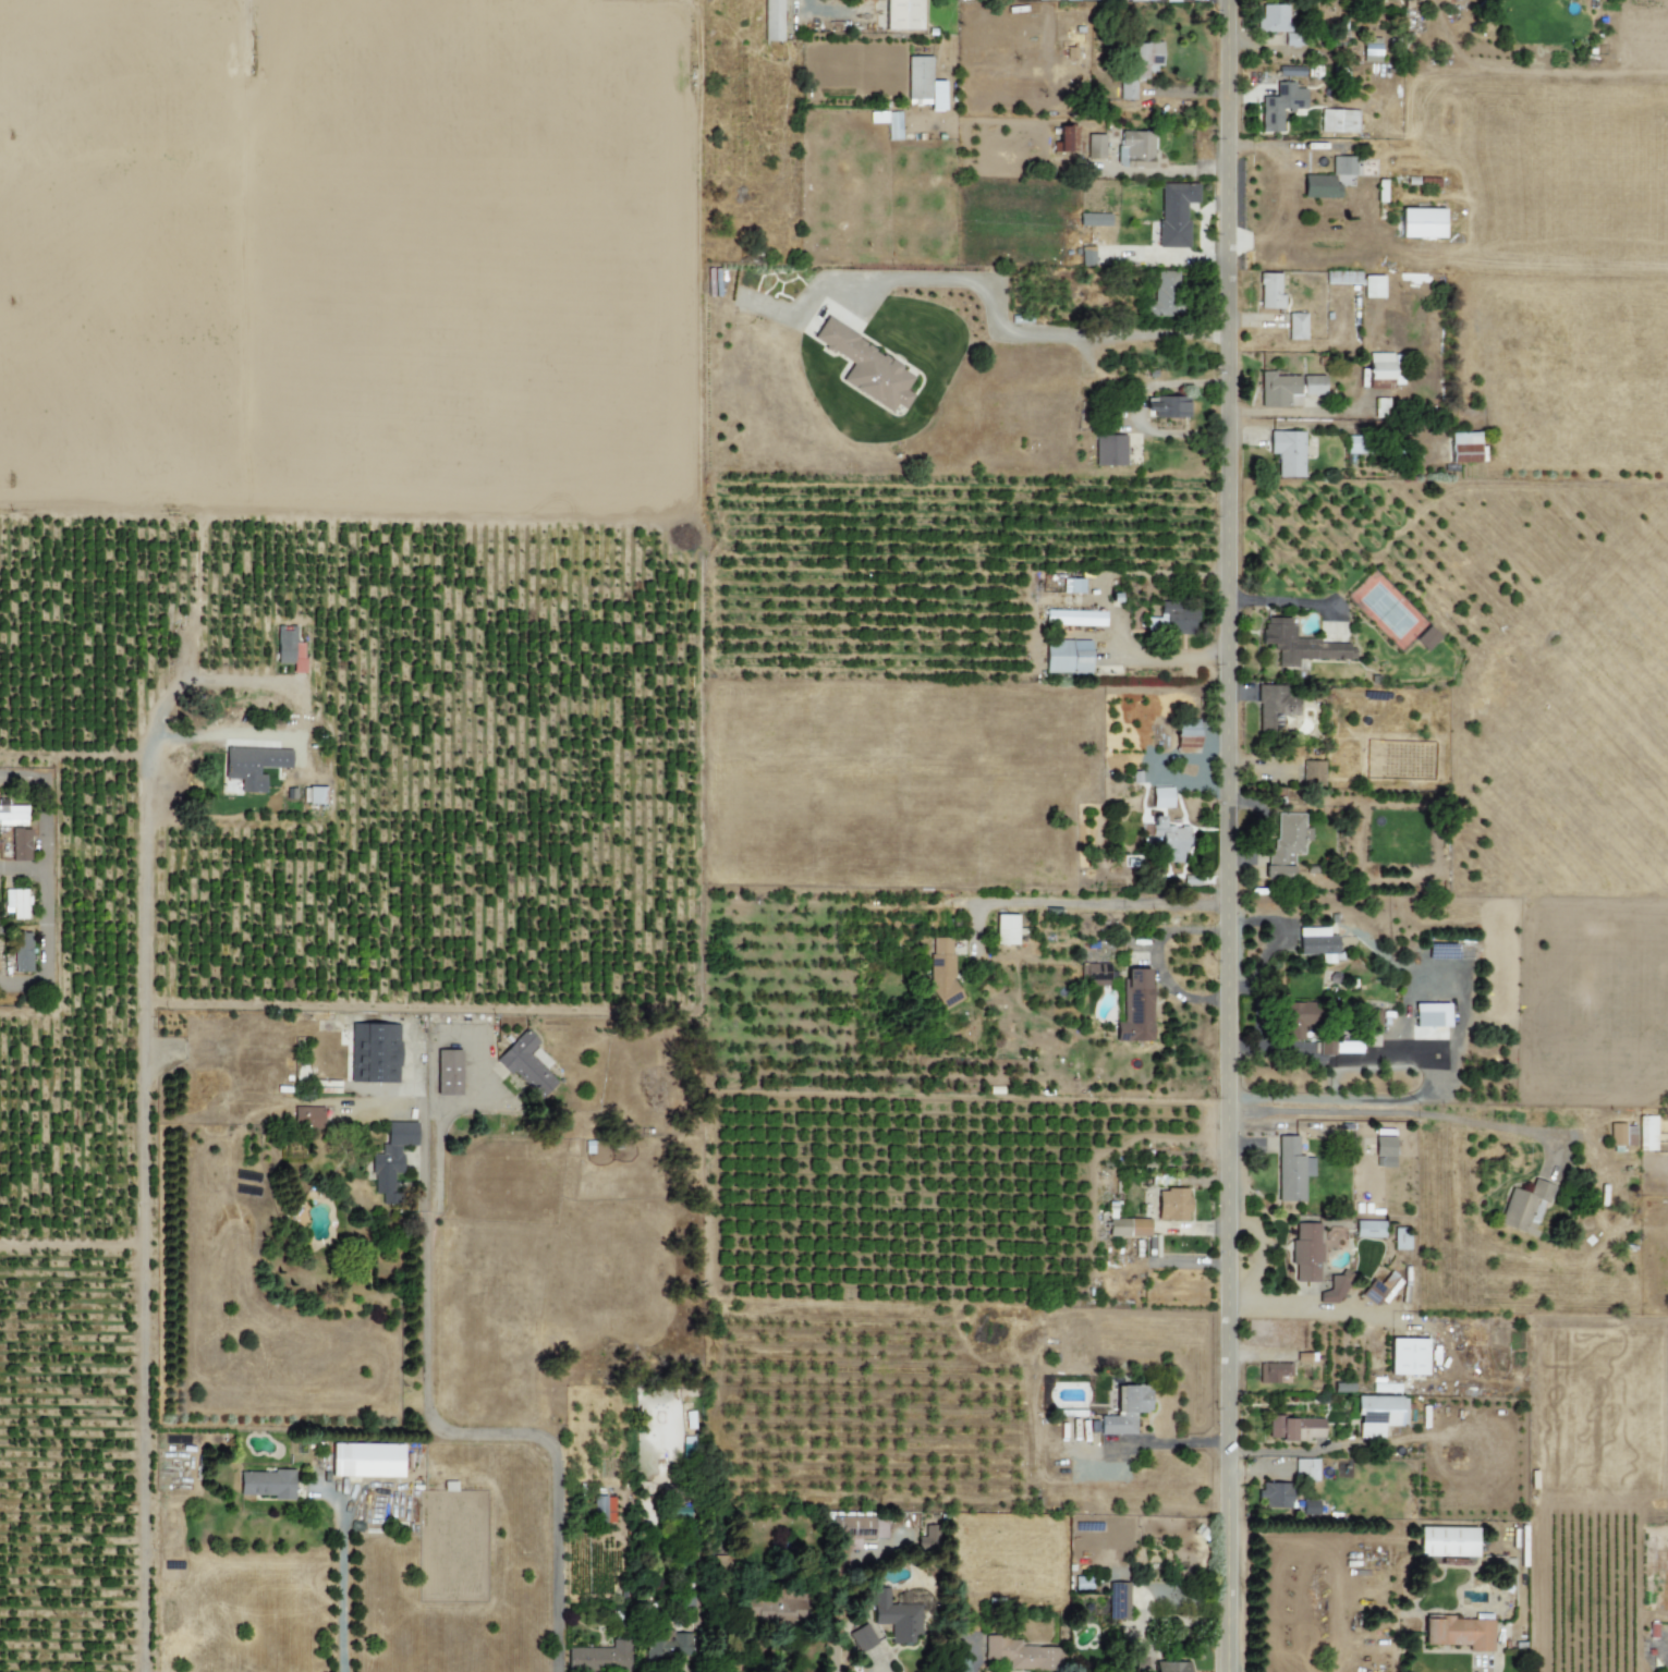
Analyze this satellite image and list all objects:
building: (1064, 0)
building: (1136, 0)
building: (1170, 0)
building: (902, 14)
building: (772, 20)
building: (1279, 23)
building: (1371, 50)
building: (1145, 57)
building: (1290, 71)
building: (923, 83)
building: (1127, 89)
building: (1279, 105)
building: (1338, 121)
building: (888, 122)
building: (1064, 139)
building: (1095, 146)
building: (1134, 148)
building: (1342, 166)
road: (1162, 170)
building: (1319, 186)
building: (1174, 212)
building: (1094, 219)
building: (1421, 222)
building: (1086, 255)
building: (1372, 285)
building: (1269, 291)
building: (1166, 293)
building: (1295, 326)
road: (1002, 329)
road: (1153, 333)
building: (1380, 365)
building: (867, 367)
building: (1379, 383)
building: (1287, 389)
building: (1167, 406)
building: (1380, 407)
building: (1355, 444)
building: (1463, 447)
building: (1109, 450)
building: (1287, 452)
building: (1072, 585)
road: (1110, 608)
building: (1074, 618)
building: (1171, 619)
building: (1426, 638)
building: (1299, 644)
building: (289, 648)
building: (1067, 657)
road: (294, 686)
building: (1274, 707)
building: (1186, 736)
building: (253, 765)
building: (1312, 772)
building: (316, 795)
building: (1161, 797)
building: (13, 815)
road: (1231, 835)
building: (20, 843)
building: (1286, 845)
road: (21, 868)
road: (42, 881)
building: (15, 903)
road: (1100, 903)
building: (1005, 929)
building: (1317, 943)
building: (22, 951)
building: (942, 971)
building: (1094, 974)
building: (1135, 1006)
building: (1430, 1014)
building: (1300, 1015)
building: (1338, 1047)
building: (374, 1052)
building: (525, 1064)
building: (448, 1072)
road: (1401, 1111)
building: (307, 1118)
building: (1646, 1133)
building: (1621, 1134)
road: (437, 1143)
building: (1384, 1151)
building: (390, 1158)
building: (1291, 1170)
building: (1171, 1204)
building: (1524, 1207)
road: (143, 1209)
building: (1128, 1226)
building: (1368, 1229)
building: (1400, 1238)
road: (1258, 1252)
building: (1305, 1252)
building: (1336, 1287)
road: (1305, 1305)
building: (1407, 1356)
building: (1273, 1371)
building: (1125, 1411)
building: (1378, 1414)
road: (440, 1428)
building: (1295, 1428)
road: (1178, 1443)
road: (1306, 1450)
building: (365, 1460)
building: (1305, 1469)
building: (267, 1484)
building: (1275, 1494)
building: (1308, 1506)
building: (604, 1508)
building: (856, 1527)
building: (927, 1536)
building: (1446, 1541)
building: (1082, 1583)
road: (340, 1591)
building: (1117, 1600)
building: (784, 1611)
building: (898, 1621)
building: (1459, 1633)
building: (862, 1637)
building: (665, 1646)
building: (1021, 1653)
building: (599, 1657)
building: (1170, 1667)

